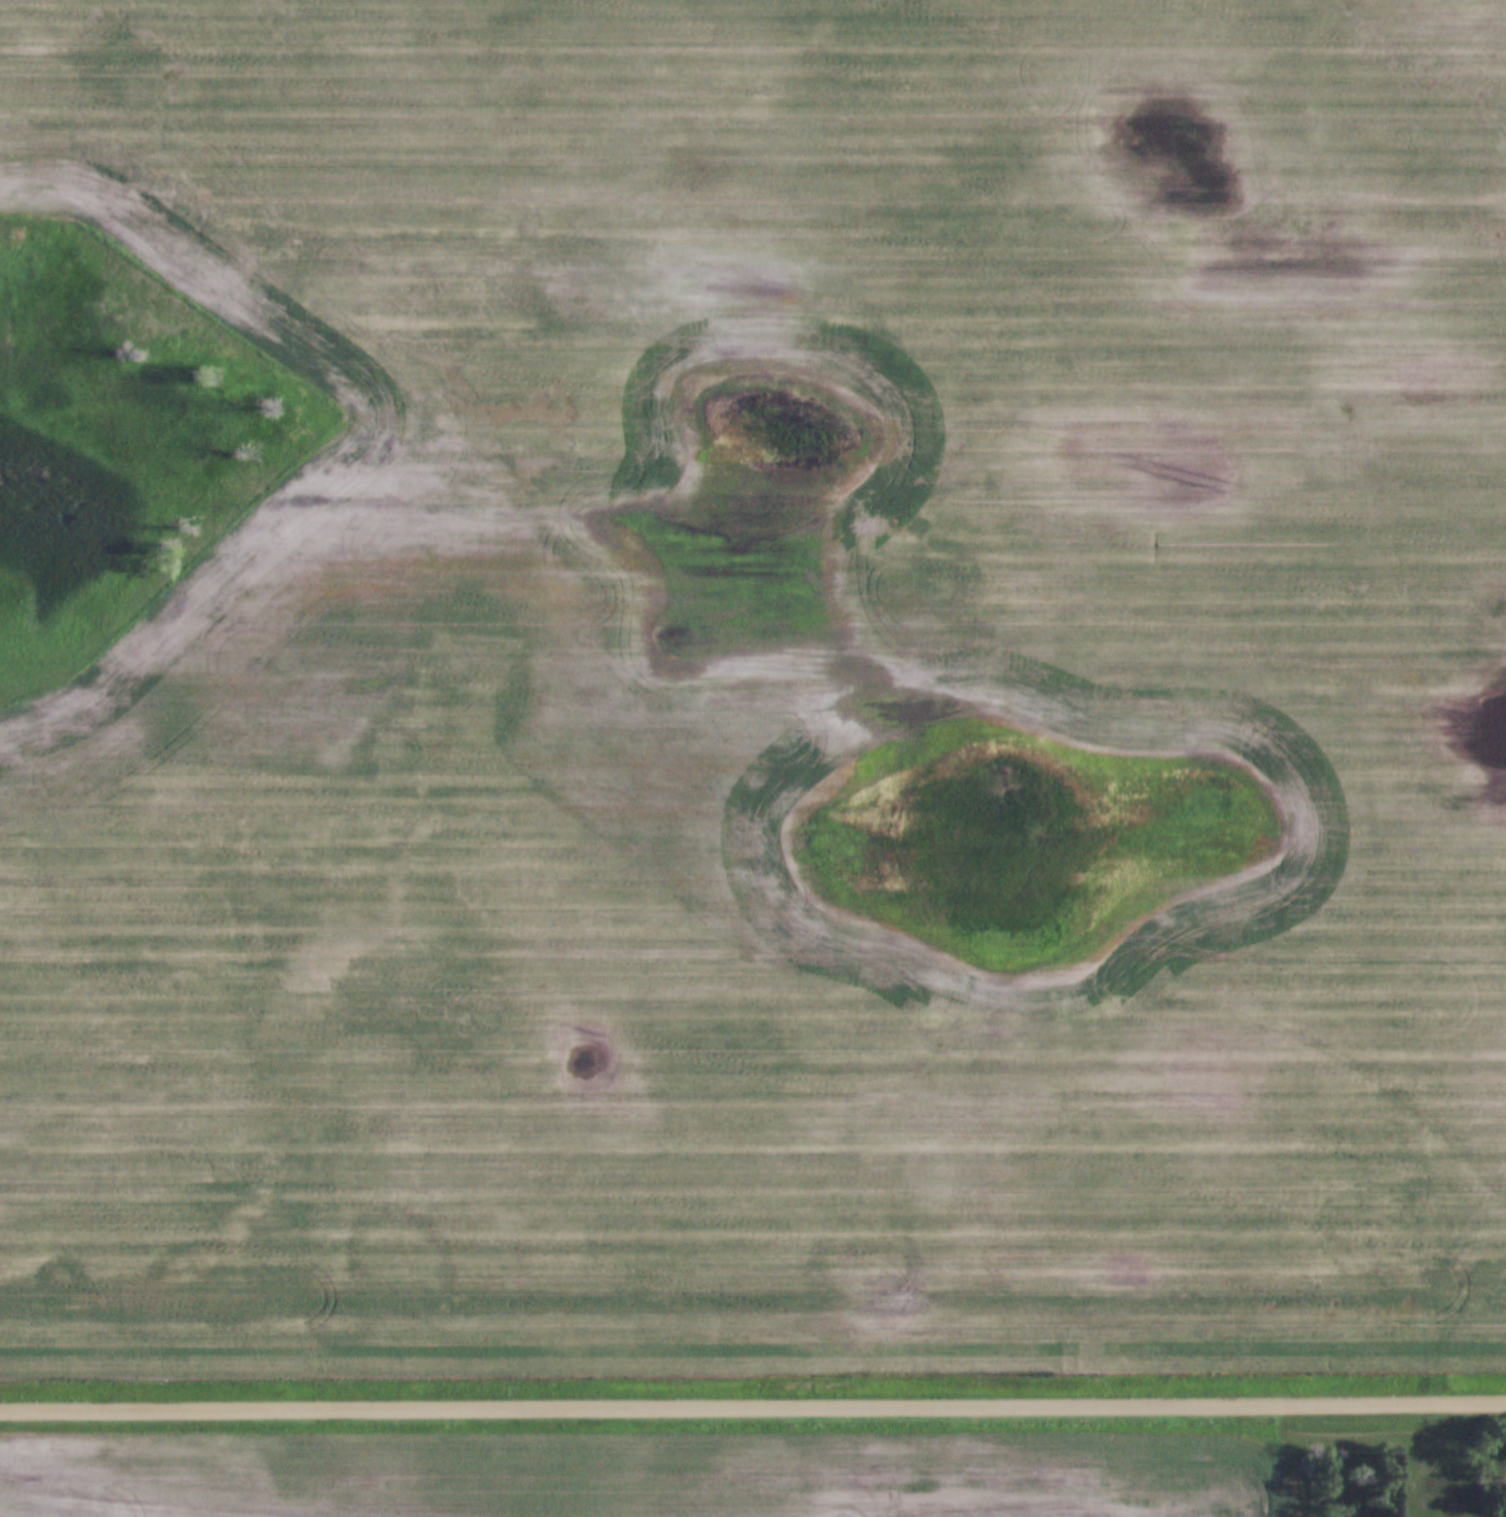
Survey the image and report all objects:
road: (753, 1406)

